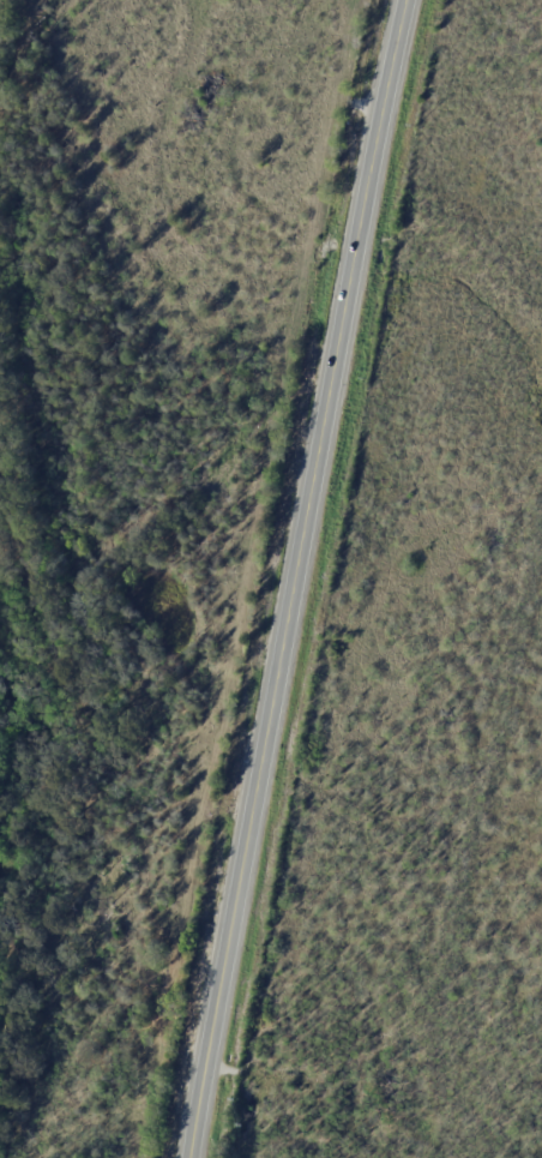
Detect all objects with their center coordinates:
road: (291, 577)

